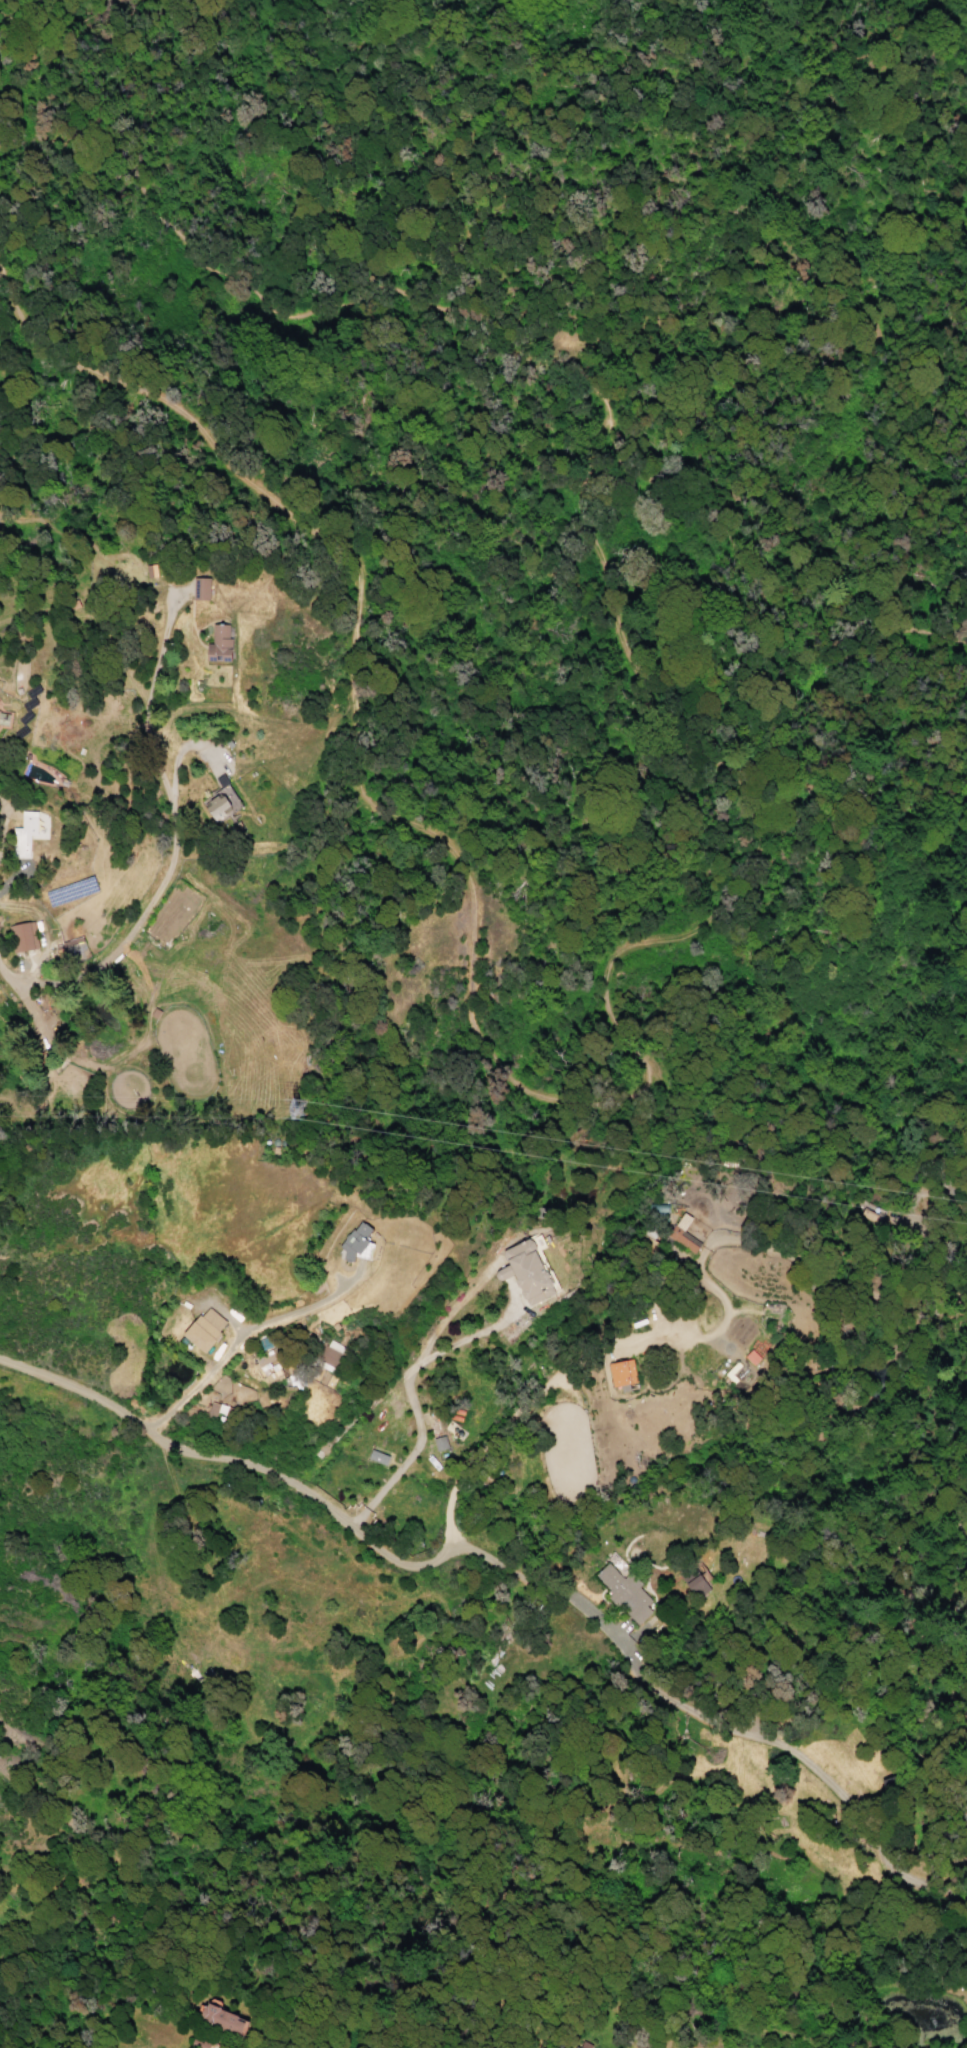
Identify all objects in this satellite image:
road: (264, 311)
building: (200, 588)
road: (758, 602)
building: (218, 642)
building: (3, 718)
building: (219, 801)
building: (22, 834)
building: (22, 936)
building: (58, 952)
road: (481, 1055)
power tower: (291, 1104)
building: (682, 1234)
building: (356, 1242)
building: (527, 1270)
road: (449, 1309)
road: (246, 1327)
building: (204, 1328)
building: (331, 1354)
building: (750, 1356)
building: (621, 1373)
road: (405, 1384)
building: (217, 1411)
building: (438, 1442)
building: (376, 1457)
road: (318, 1497)
building: (694, 1583)
building: (623, 1592)
road: (828, 1786)
building: (223, 2021)
building: (204, 2040)
building: (577, 2047)

